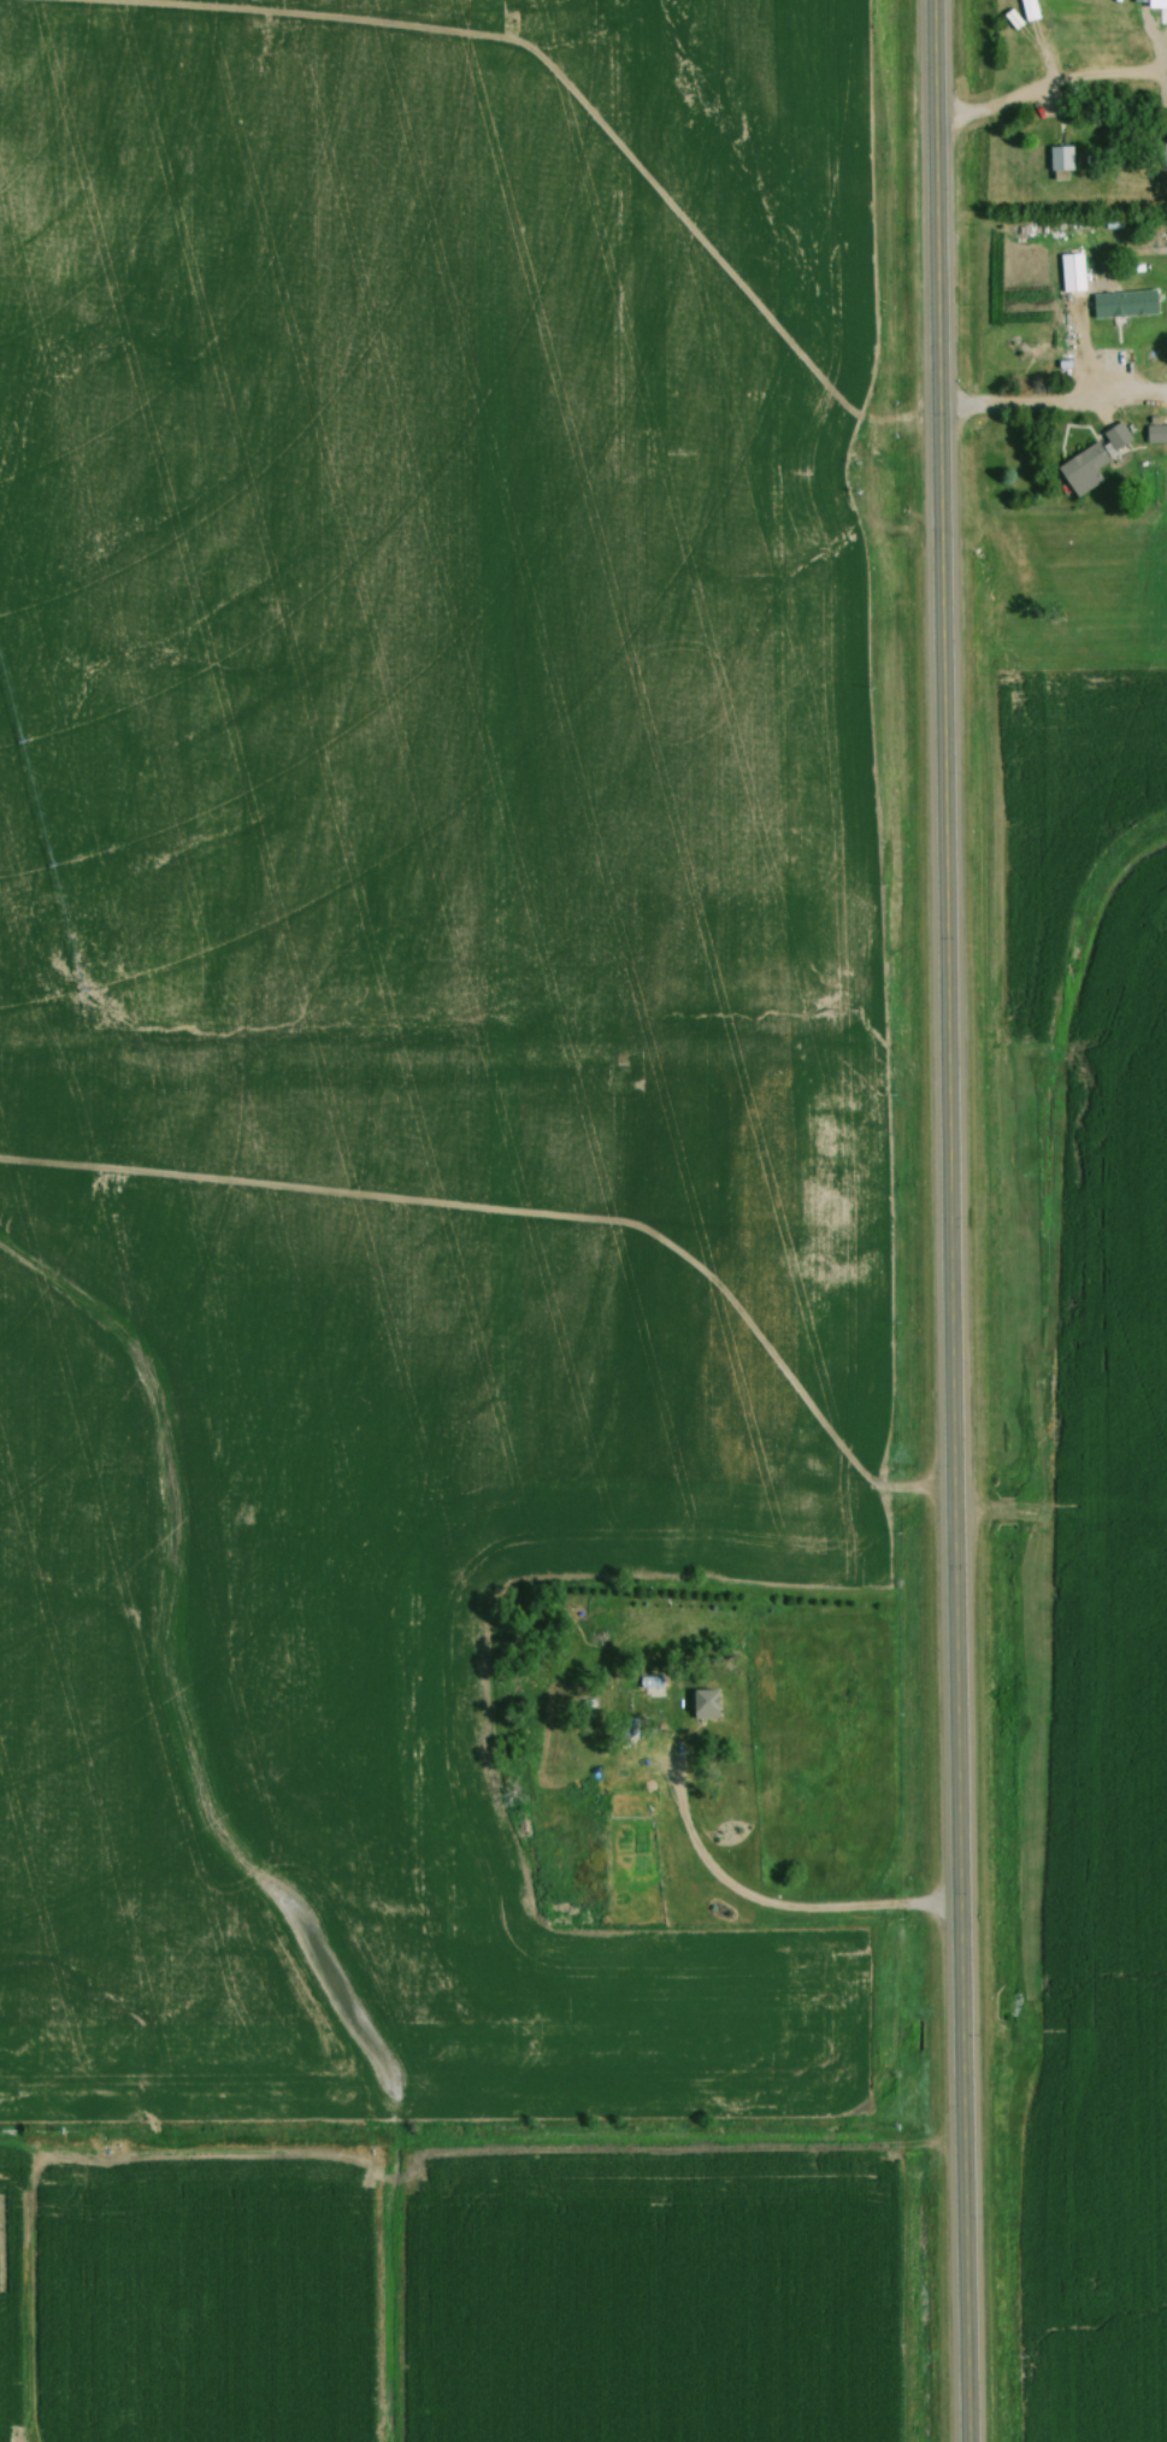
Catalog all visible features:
building: (1156, 4)
road: (995, 111)
building: (1163, 154)
building: (1059, 157)
building: (1069, 271)
building: (1122, 302)
road: (1020, 406)
building: (1155, 433)
building: (1092, 457)
road: (948, 1220)
building: (649, 1685)
building: (705, 1703)
building: (631, 1803)
road: (764, 1910)

